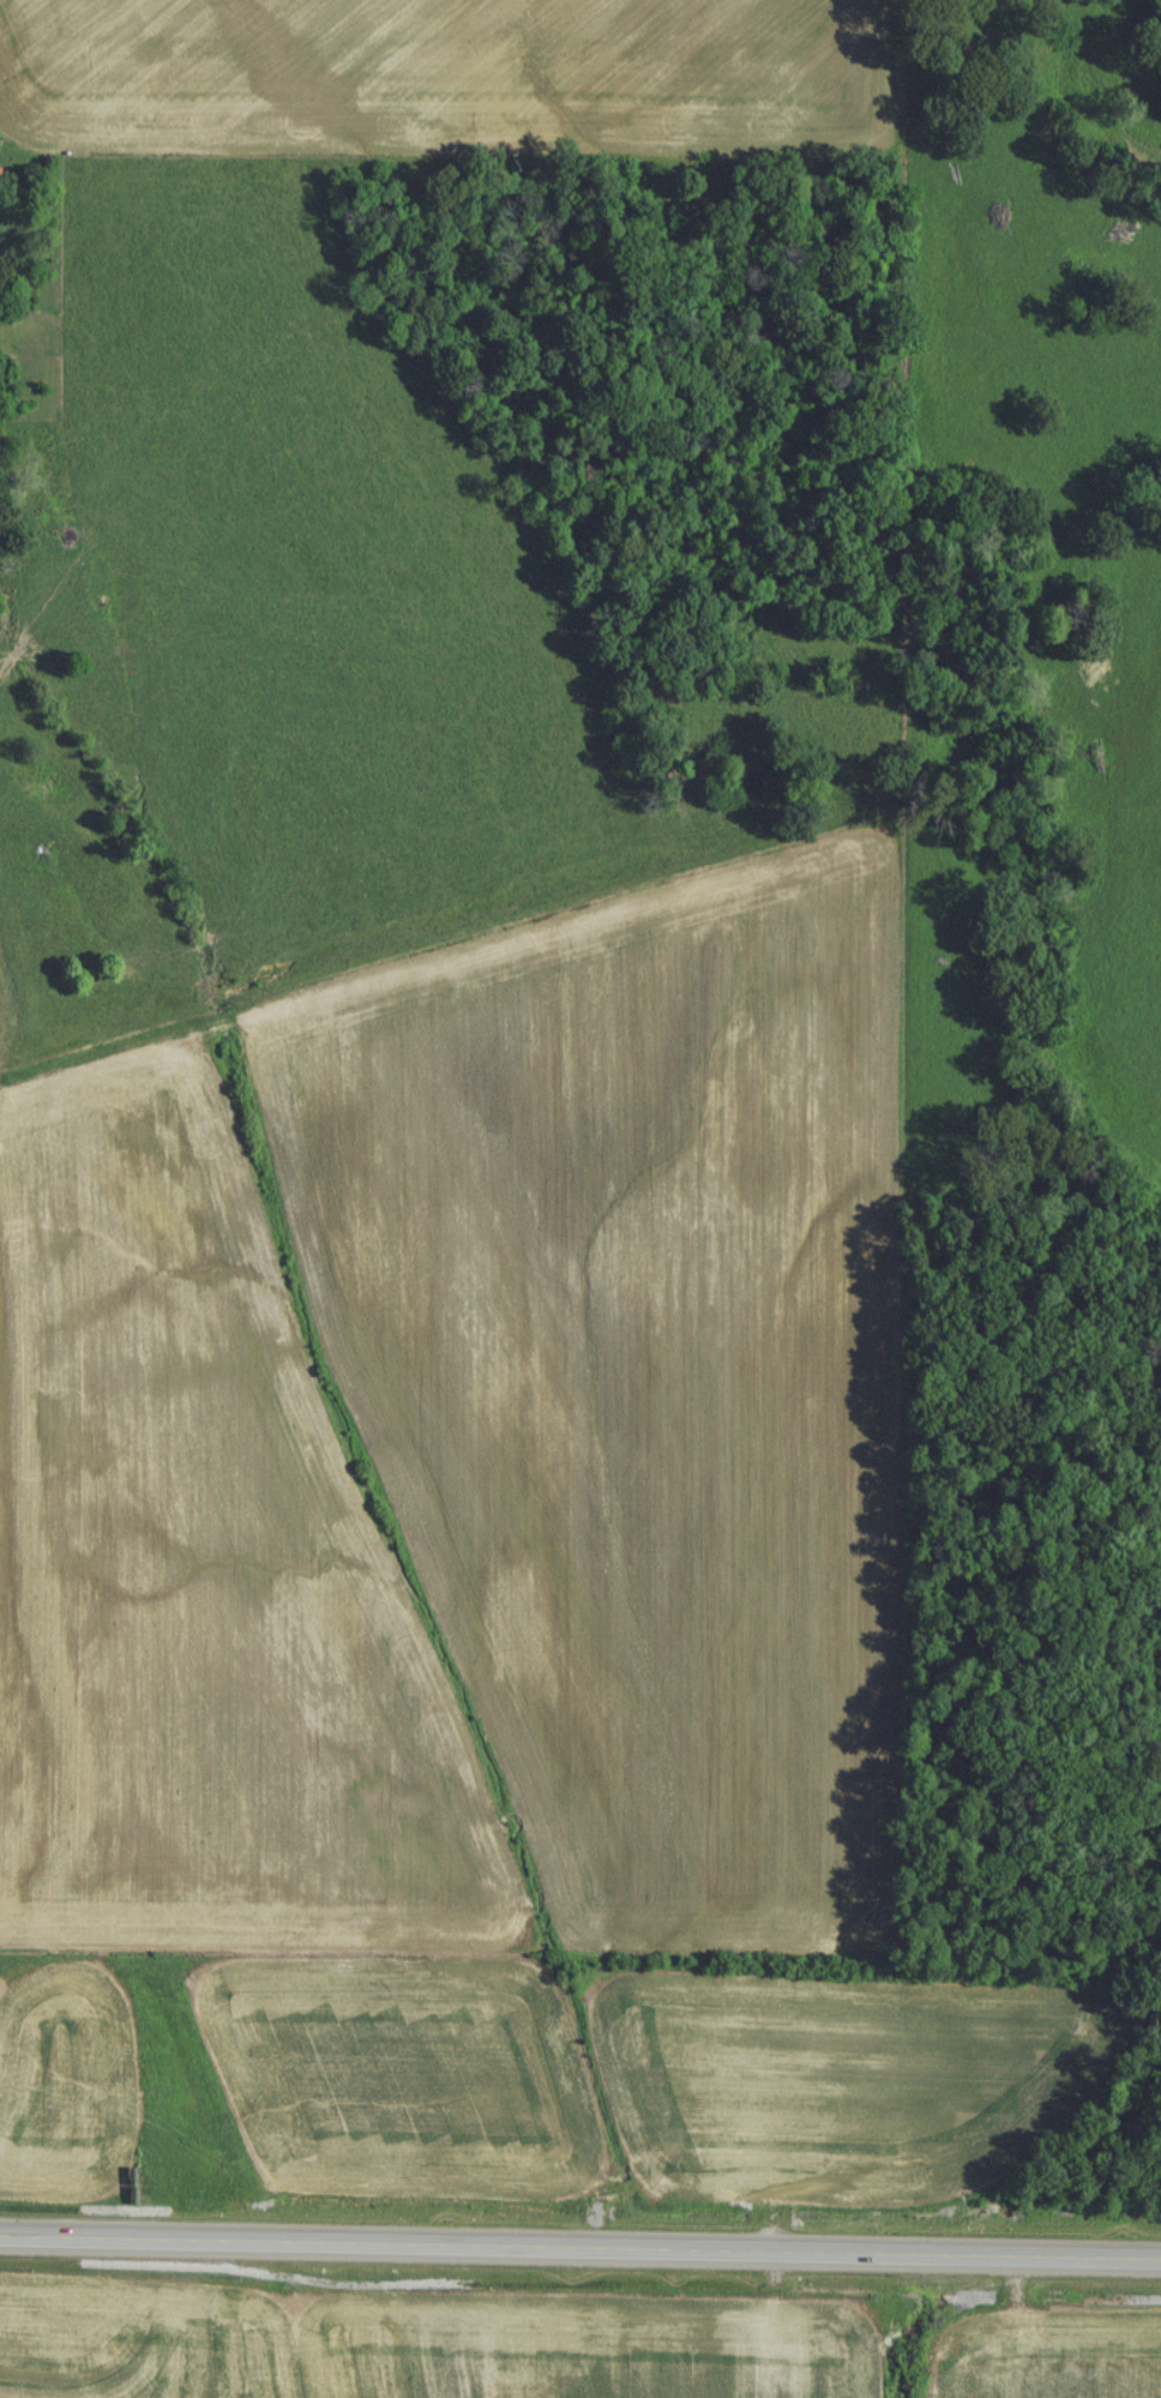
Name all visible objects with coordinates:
road: (580, 2250)

